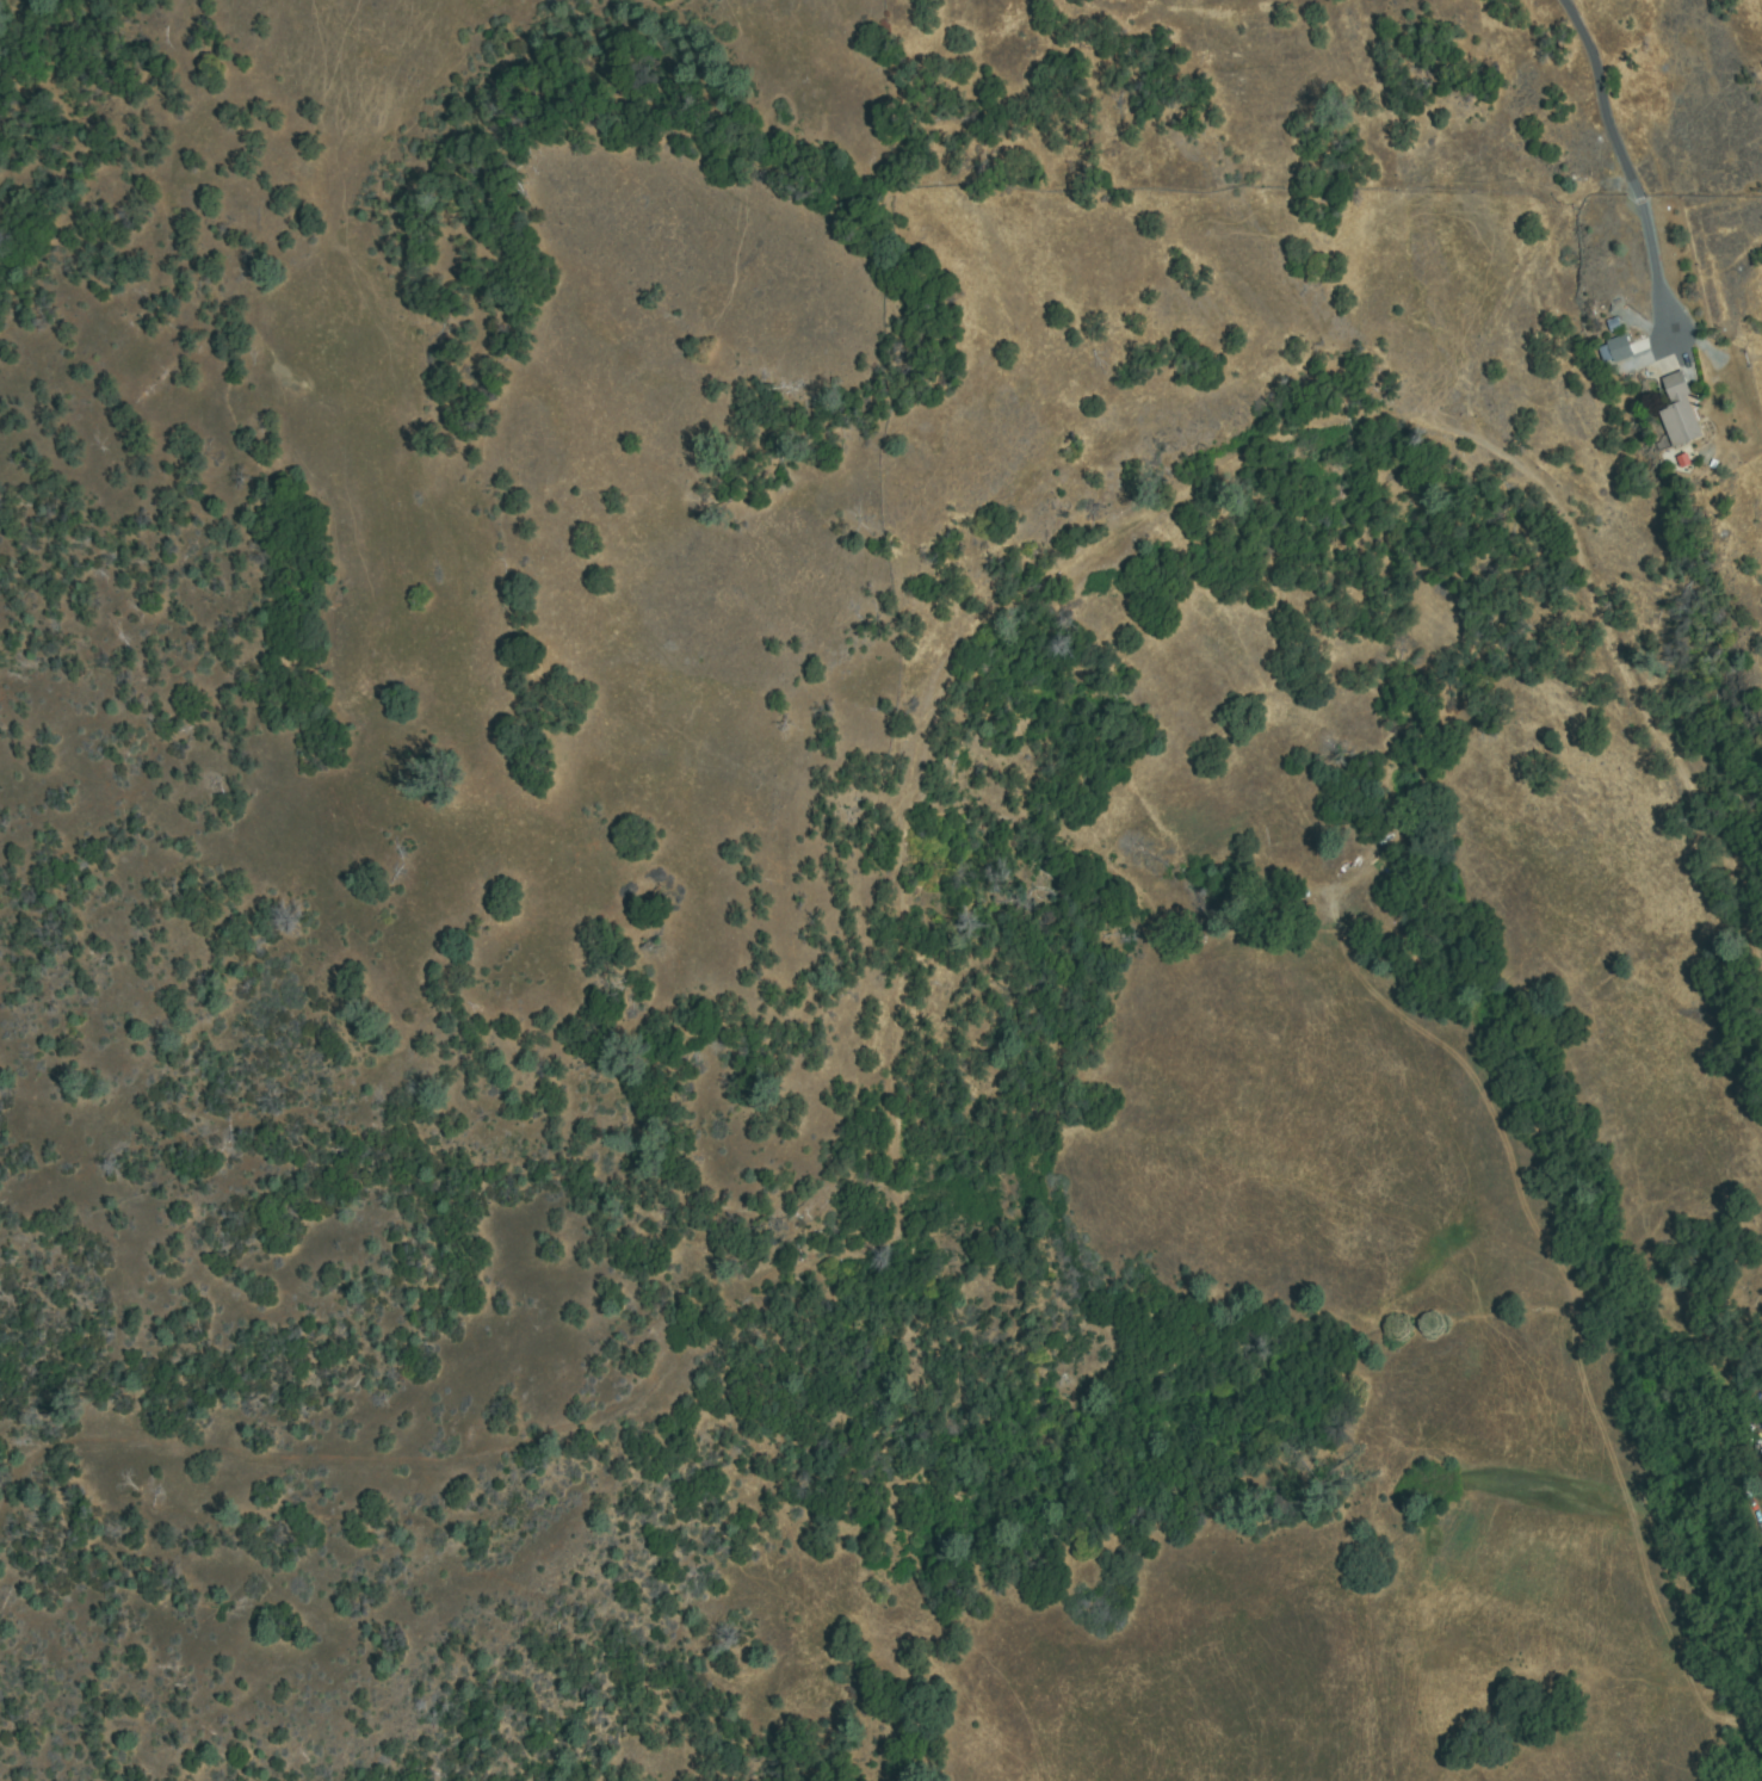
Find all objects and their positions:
building: (1618, 350)
building: (1680, 415)

